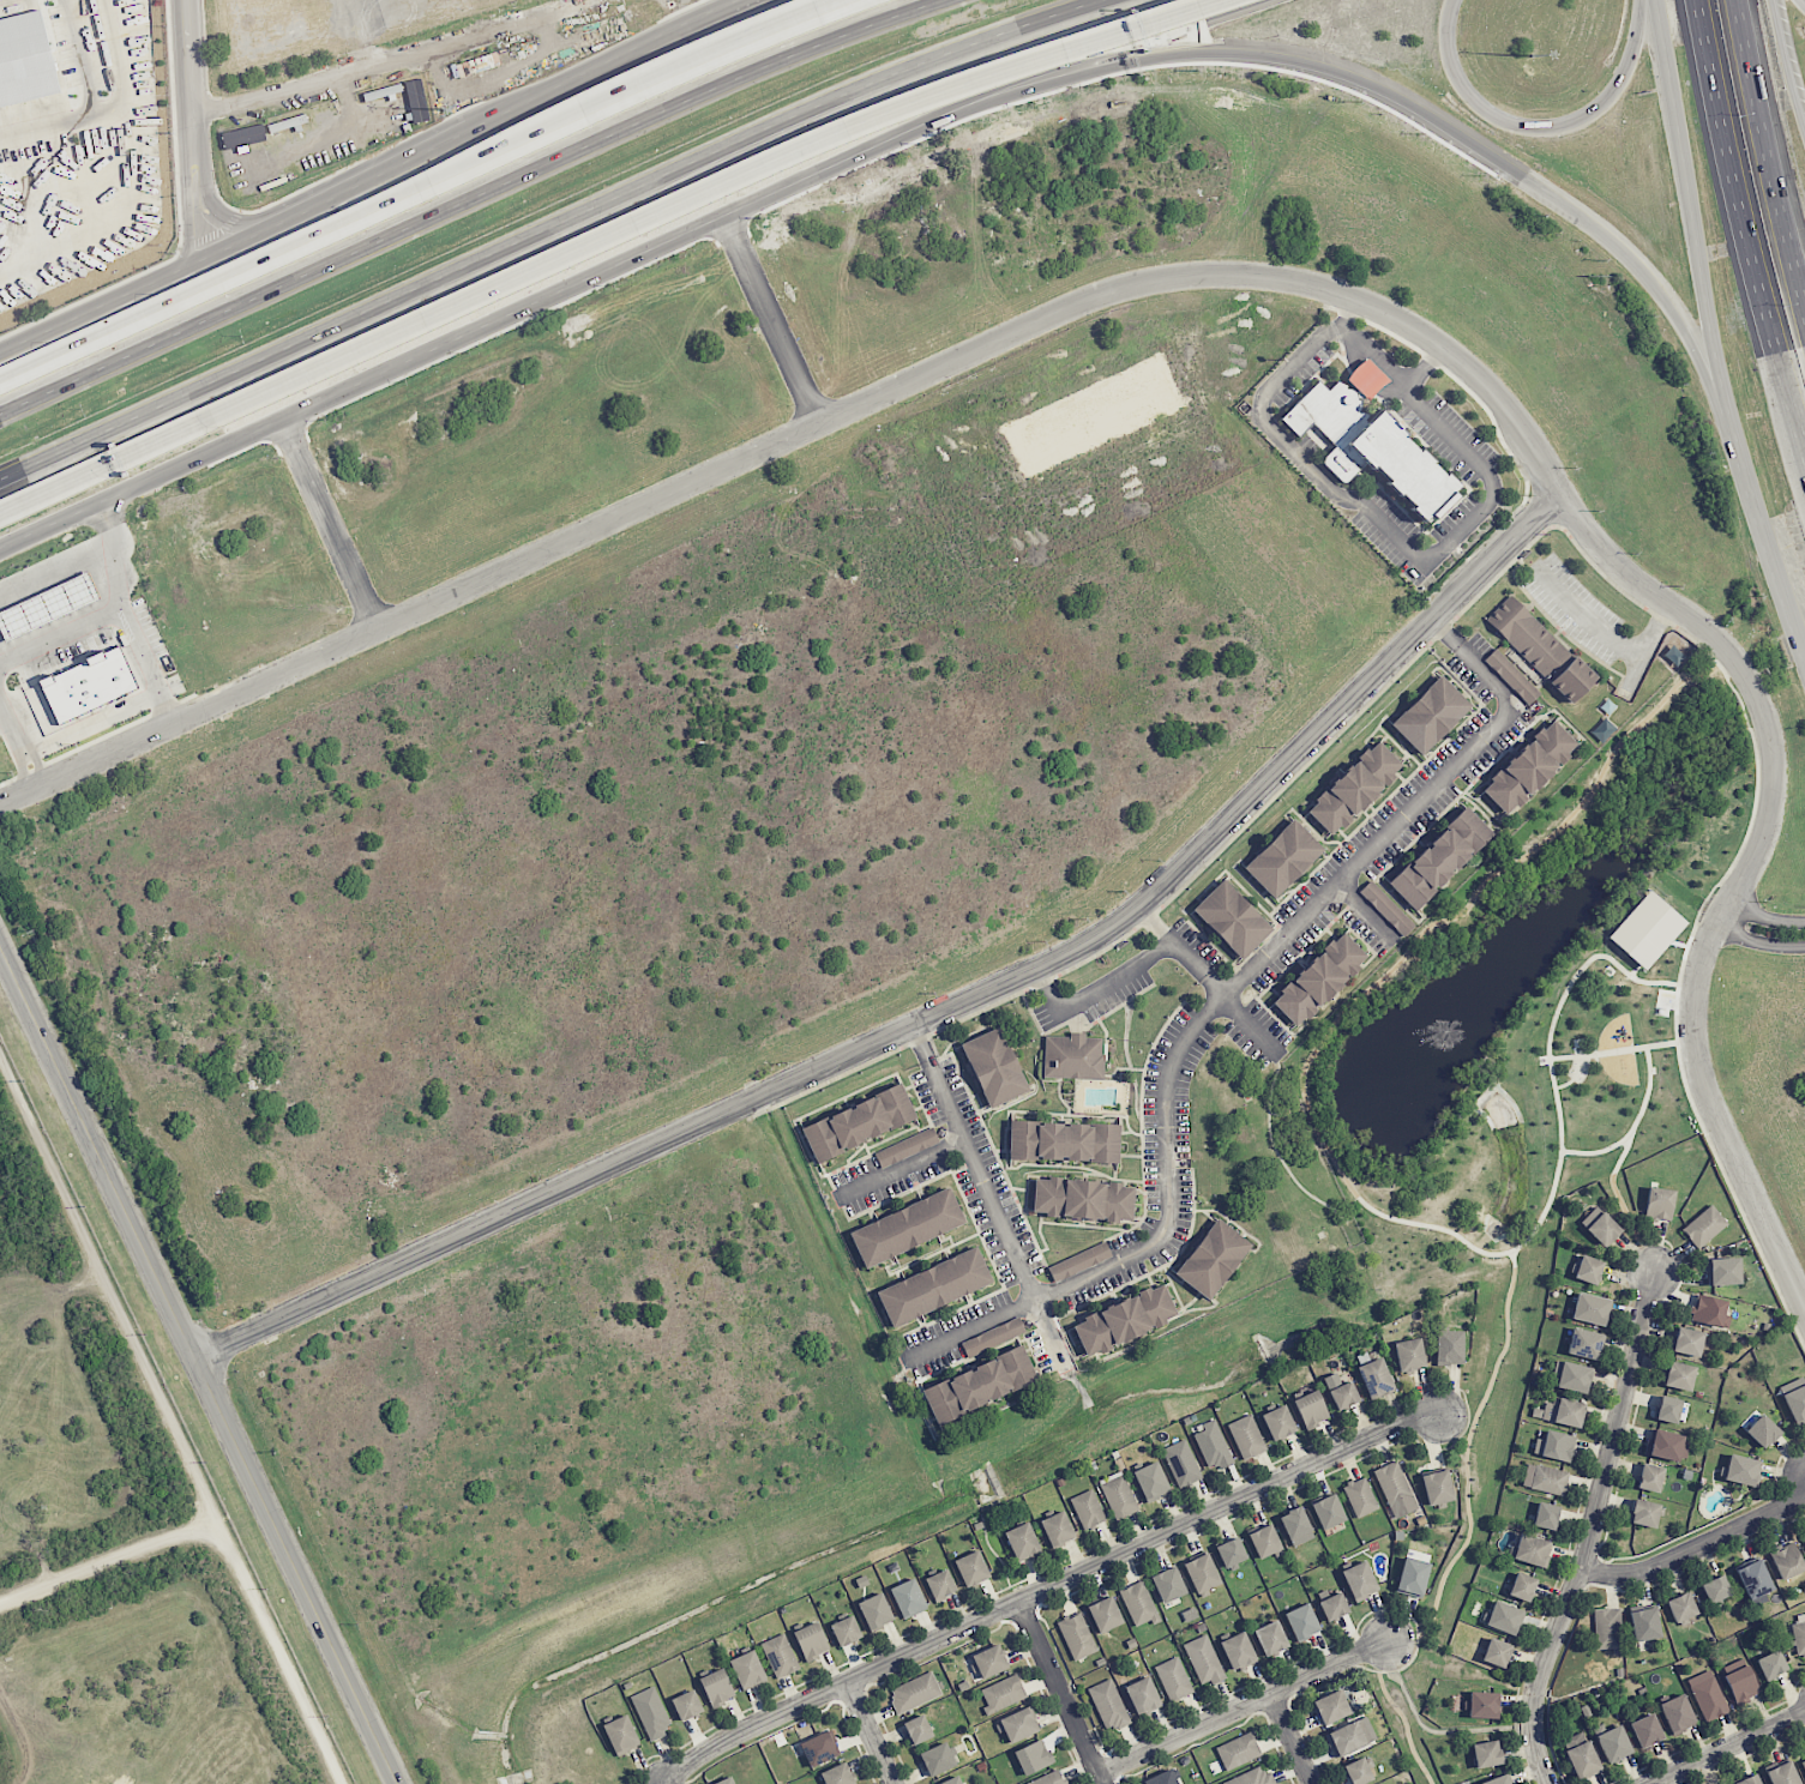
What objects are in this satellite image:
road: (1654, 4)
road: (1798, 6)
road: (825, 8)
road: (739, 14)
road: (1159, 36)
road: (82, 56)
road: (391, 59)
building: (25, 60)
road: (1788, 62)
road: (586, 83)
road: (630, 89)
building: (416, 100)
road: (115, 109)
road: (1443, 129)
road: (1539, 129)
road: (193, 133)
road: (886, 135)
road: (1765, 153)
road: (375, 185)
road: (703, 192)
road: (468, 198)
road: (1690, 206)
road: (1749, 221)
road: (233, 223)
road: (546, 228)
road: (669, 242)
road: (241, 247)
road: (233, 275)
road: (101, 312)
road: (1343, 314)
road: (771, 319)
road: (305, 402)
road: (802, 428)
building: (1370, 440)
road: (103, 463)
road: (1745, 465)
road: (1371, 512)
road: (330, 522)
road: (60, 571)
road: (1782, 589)
building: (54, 607)
gas station: (54, 607)
road: (108, 609)
road: (1612, 635)
building: (1540, 647)
building: (1674, 655)
road: (144, 667)
building: (1511, 676)
building: (98, 685)
road: (1340, 715)
building: (1430, 715)
road: (19, 748)
building: (1528, 766)
building: (1354, 788)
building: (1282, 857)
building: (1439, 857)
road: (1747, 874)
building: (1386, 908)
road: (1365, 911)
road: (1768, 915)
building: (1232, 918)
road: (1160, 927)
road: (1761, 941)
road: (1161, 953)
building: (1318, 978)
road: (1219, 1005)
park: (1534, 1007)
road: (1625, 1050)
building: (1073, 1055)
building: (994, 1066)
building: (859, 1121)
road: (1639, 1127)
building: (1064, 1140)
road: (655, 1145)
building: (905, 1146)
road: (1334, 1146)
road: (97, 1151)
road: (1283, 1157)
road: (977, 1162)
road: (904, 1171)
building: (1082, 1198)
road: (1624, 1203)
building: (1659, 1204)
building: (905, 1226)
building: (1704, 1226)
building: (1602, 1229)
building: (1213, 1258)
building: (1079, 1261)
building: (1588, 1270)
building: (1723, 1271)
building: (933, 1286)
road: (115, 1298)
building: (1590, 1308)
building: (1710, 1312)
building: (1123, 1319)
road: (1051, 1330)
building: (992, 1336)
building: (1687, 1342)
building: (1584, 1343)
building: (1449, 1348)
building: (1409, 1355)
building: (1679, 1375)
building: (1570, 1376)
building: (1374, 1378)
building: (979, 1384)
building: (1344, 1396)
building: (1795, 1403)
building: (1311, 1409)
building: (1668, 1409)
building: (1563, 1411)
building: (1278, 1422)
building: (1762, 1432)
building: (1247, 1436)
building: (1213, 1445)
building: (1556, 1446)
building: (1668, 1446)
building: (1181, 1463)
building: (1741, 1470)
building: (1650, 1477)
building: (1545, 1478)
building: (1151, 1481)
building: (1437, 1487)
building: (1395, 1489)
building: (1118, 1495)
building: (1360, 1496)
building: (1088, 1508)
building: (1328, 1512)
building: (1644, 1513)
building: (1546, 1515)
building: (1296, 1526)
road: (1590, 1527)
building: (1057, 1529)
building: (1022, 1541)
building: (1264, 1541)
road: (1472, 1541)
road: (1696, 1543)
building: (1532, 1550)
building: (1231, 1551)
road: (234, 1555)
building: (1787, 1561)
building: (971, 1568)
road: (294, 1571)
building: (1202, 1573)
building: (1412, 1577)
building: (1753, 1579)
building: (1360, 1581)
building: (1168, 1584)
building: (940, 1585)
building: (1522, 1586)
road: (1047, 1589)
building: (1716, 1589)
building: (908, 1598)
building: (1139, 1604)
building: (1334, 1607)
building: (1681, 1607)
building: (876, 1610)
building: (1105, 1614)
building: (1504, 1617)
building: (1302, 1621)
building: (1644, 1623)
building: (1607, 1629)
building: (846, 1631)
building: (1799, 1633)
building: (1077, 1635)
building: (1270, 1638)
building: (811, 1640)
building: (1238, 1651)
building: (1497, 1652)
building: (780, 1656)
building: (989, 1661)
building: (1204, 1661)
building: (1771, 1664)
building: (747, 1669)
building: (1174, 1678)
building: (1741, 1684)
building: (717, 1687)
building: (915, 1692)
road: (1061, 1692)
building: (1003, 1694)
building: (1143, 1695)
building: (1708, 1695)
building: (686, 1705)
building: (1108, 1705)
building: (1482, 1705)
road: (1244, 1706)
building: (1331, 1706)
building: (651, 1712)
building: (1677, 1713)
building: (1019, 1724)
building: (917, 1729)
building: (1645, 1730)
road: (873, 1734)
road: (20, 1735)
building: (621, 1735)
building: (1350, 1736)
road: (1294, 1738)
building: (1614, 1743)
road: (1726, 1747)
building: (820, 1748)
building: (1238, 1750)
building: (1487, 1754)
building: (1033, 1756)
building: (937, 1759)
building: (1583, 1760)
building: (1803, 1764)
building: (1358, 1771)
building: (837, 1774)
building: (1782, 1774)
building: (1048, 1778)
building: (1161, 1778)
building: (1252, 1778)
building: (1498, 1779)
building: (726, 1780)
building: (951, 1780)
building: (1749, 1780)

